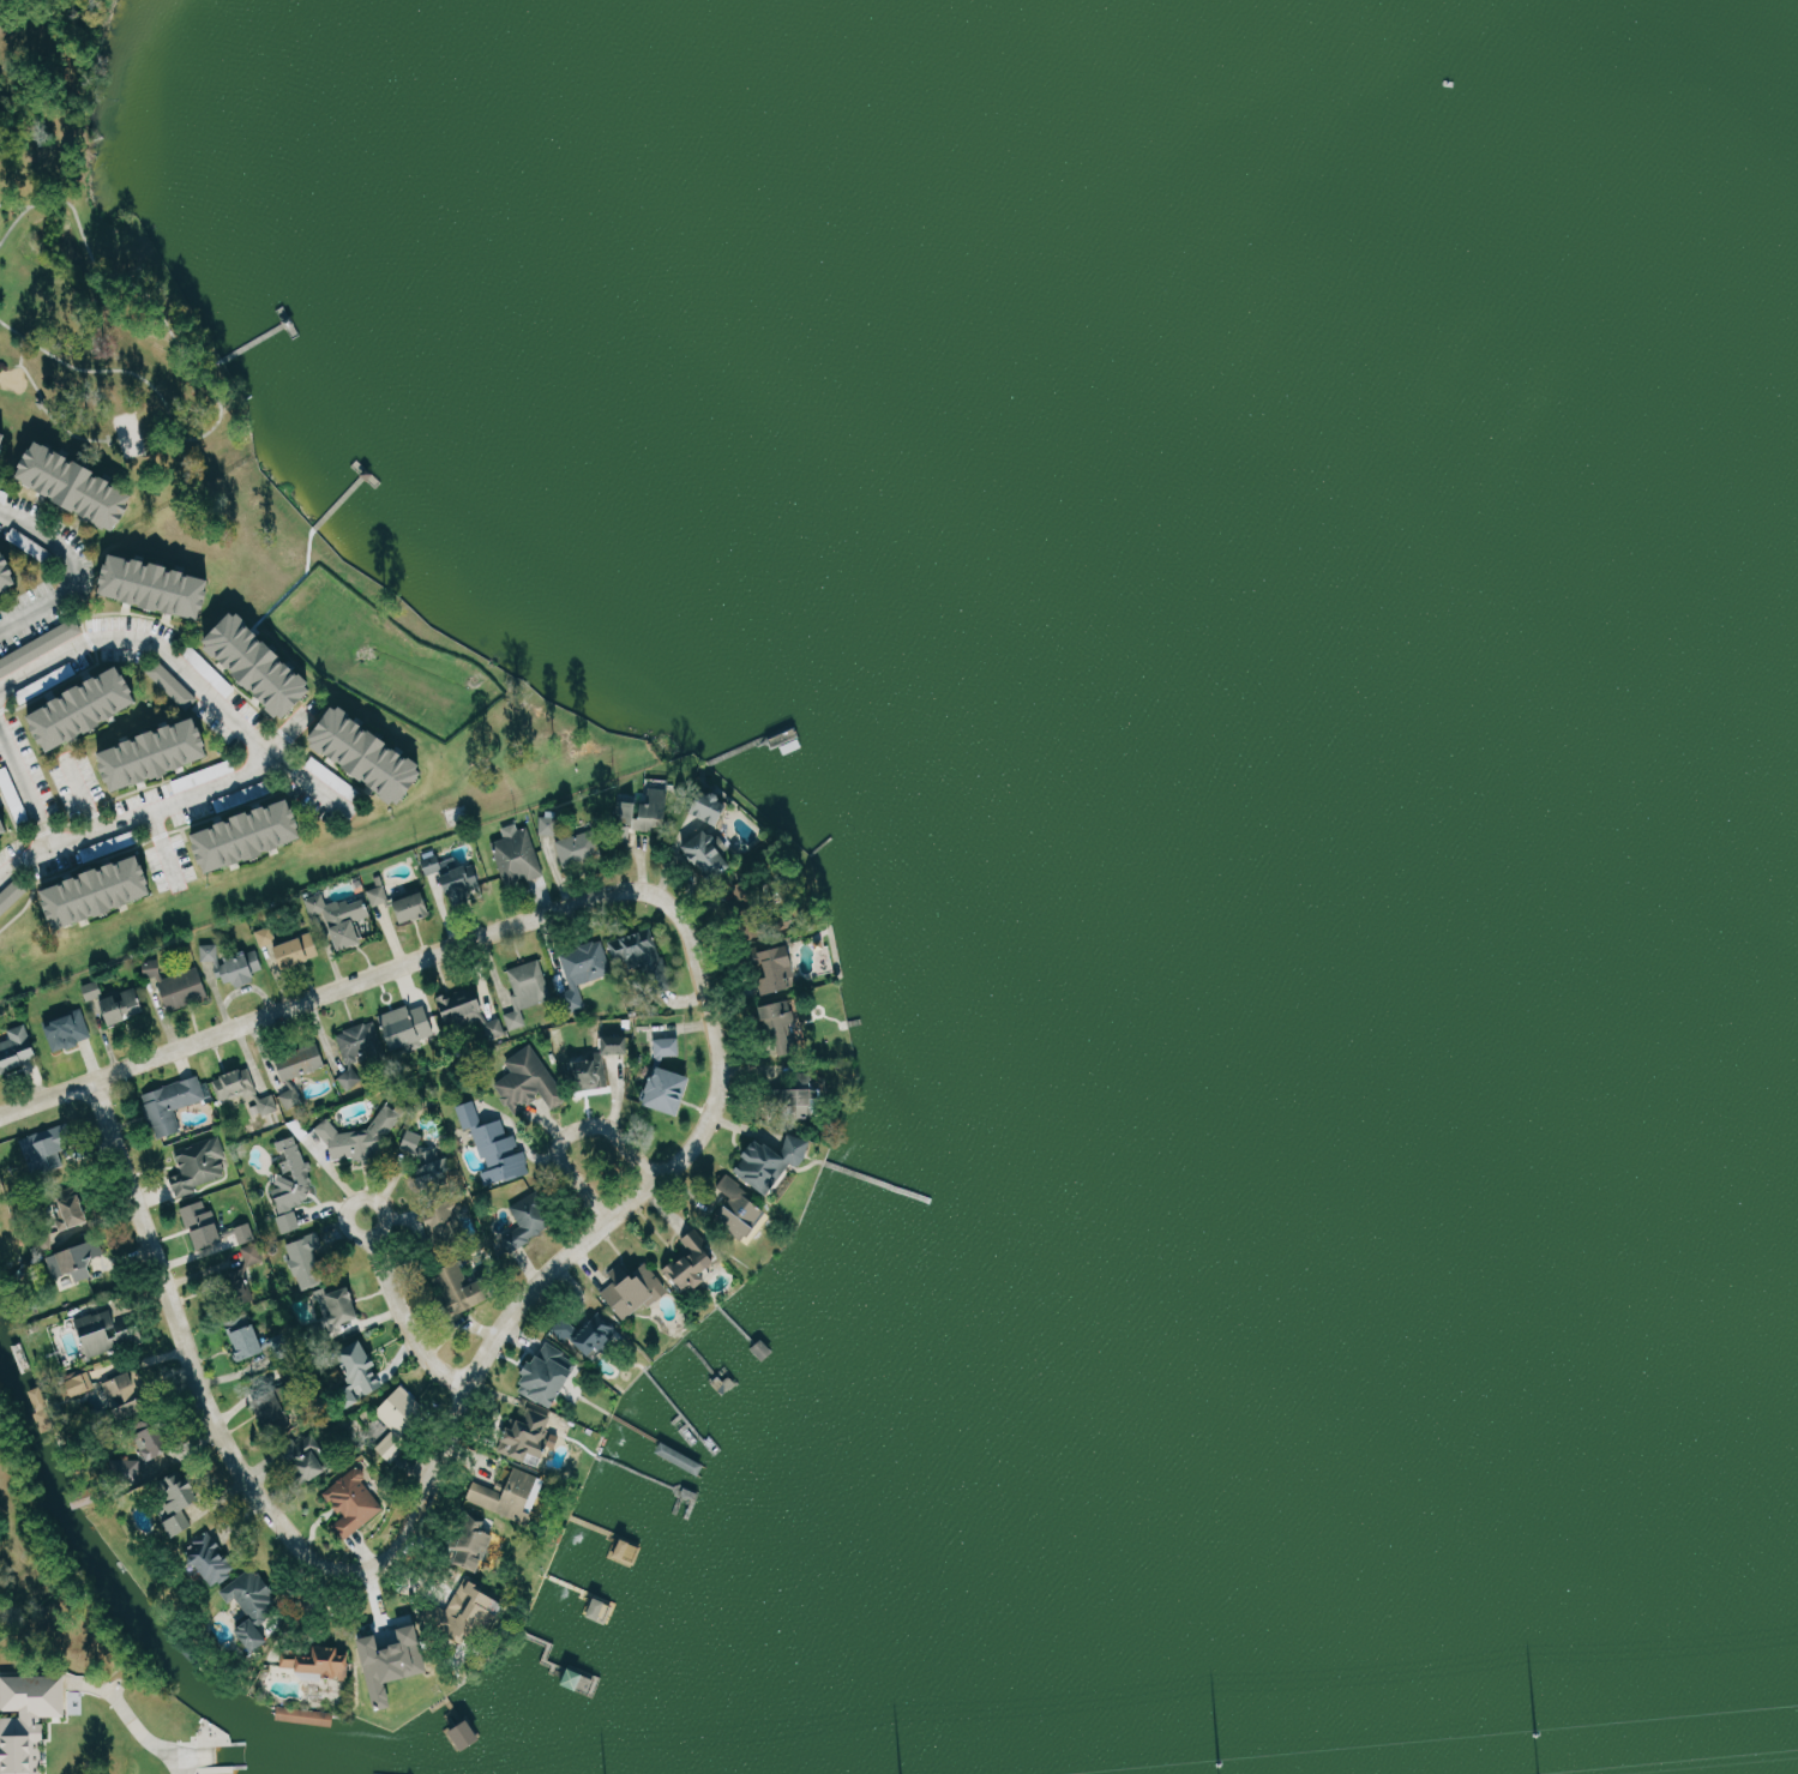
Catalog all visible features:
building: (6, 447)
building: (84, 487)
road: (70, 572)
building: (10, 573)
building: (163, 588)
building: (26, 655)
building: (266, 666)
road: (184, 672)
building: (170, 681)
building: (38, 687)
building: (84, 710)
building: (155, 756)
building: (375, 757)
building: (715, 807)
building: (551, 824)
road: (104, 825)
building: (2, 830)
building: (257, 837)
road: (163, 846)
building: (714, 850)
building: (518, 852)
building: (576, 852)
road: (22, 855)
building: (464, 880)
building: (98, 895)
building: (13, 896)
building: (380, 896)
building: (416, 907)
building: (347, 920)
building: (267, 936)
building: (648, 949)
building: (301, 950)
building: (234, 964)
building: (781, 969)
building: (585, 970)
road: (393, 974)
building: (185, 987)
building: (528, 990)
building: (95, 992)
building: (121, 1005)
building: (471, 1016)
building: (782, 1023)
building: (409, 1027)
building: (70, 1030)
building: (619, 1044)
building: (669, 1047)
building: (16, 1048)
building: (361, 1056)
building: (303, 1063)
building: (593, 1068)
building: (530, 1081)
building: (673, 1089)
building: (245, 1090)
building: (802, 1098)
building: (174, 1104)
building: (389, 1117)
road: (572, 1138)
building: (349, 1142)
building: (497, 1147)
building: (44, 1149)
building: (774, 1161)
building: (429, 1162)
building: (203, 1167)
building: (67, 1208)
building: (742, 1216)
building: (437, 1219)
building: (529, 1221)
building: (205, 1225)
building: (249, 1244)
building: (309, 1259)
building: (82, 1261)
building: (693, 1264)
building: (482, 1289)
building: (635, 1289)
building: (339, 1305)
road: (411, 1316)
building: (103, 1334)
building: (595, 1334)
road: (497, 1336)
building: (251, 1341)
road: (198, 1358)
building: (363, 1367)
building: (551, 1375)
building: (77, 1385)
building: (128, 1395)
building: (273, 1415)
building: (403, 1415)
building: (534, 1433)
building: (158, 1443)
building: (319, 1462)
building: (134, 1465)
building: (185, 1492)
building: (356, 1505)
building: (180, 1525)
building: (629, 1552)
building: (239, 1587)
building: (482, 1604)
building: (397, 1662)
building: (323, 1665)
building: (290, 1713)
building: (26, 1719)
road: (172, 1761)

